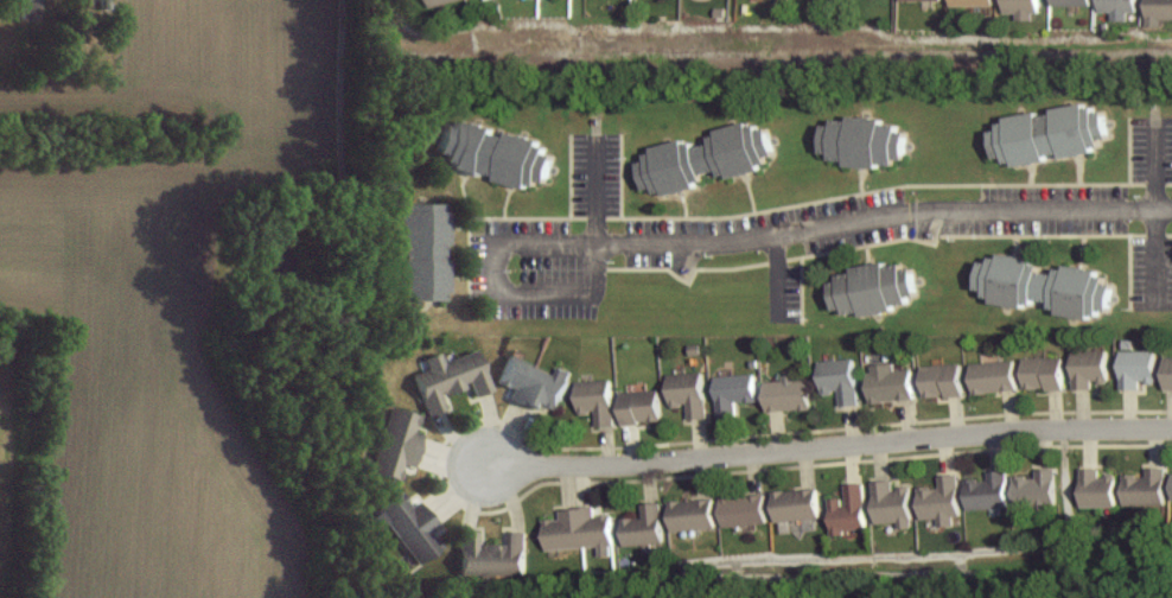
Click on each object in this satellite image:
building: (923, 0)
building: (440, 2)
building: (973, 4)
building: (1072, 4)
building: (30, 8)
building: (1117, 8)
building: (1023, 9)
building: (1158, 13)
building: (1050, 135)
building: (861, 141)
building: (495, 154)
building: (706, 158)
road: (597, 195)
road: (835, 225)
building: (419, 252)
building: (1042, 284)
building: (874, 288)
road: (547, 294)
building: (1091, 368)
building: (1139, 368)
building: (1168, 371)
building: (1045, 373)
building: (995, 376)
building: (450, 380)
building: (841, 380)
building: (942, 380)
building: (533, 382)
building: (892, 382)
building: (735, 390)
building: (689, 393)
building: (789, 394)
building: (598, 400)
building: (642, 406)
building: (394, 443)
road: (830, 448)
building: (1147, 486)
building: (1098, 488)
building: (1038, 489)
building: (989, 491)
building: (942, 501)
building: (892, 503)
building: (797, 504)
building: (848, 509)
building: (745, 510)
building: (694, 514)
building: (645, 526)
building: (412, 527)
building: (579, 529)
building: (491, 555)

